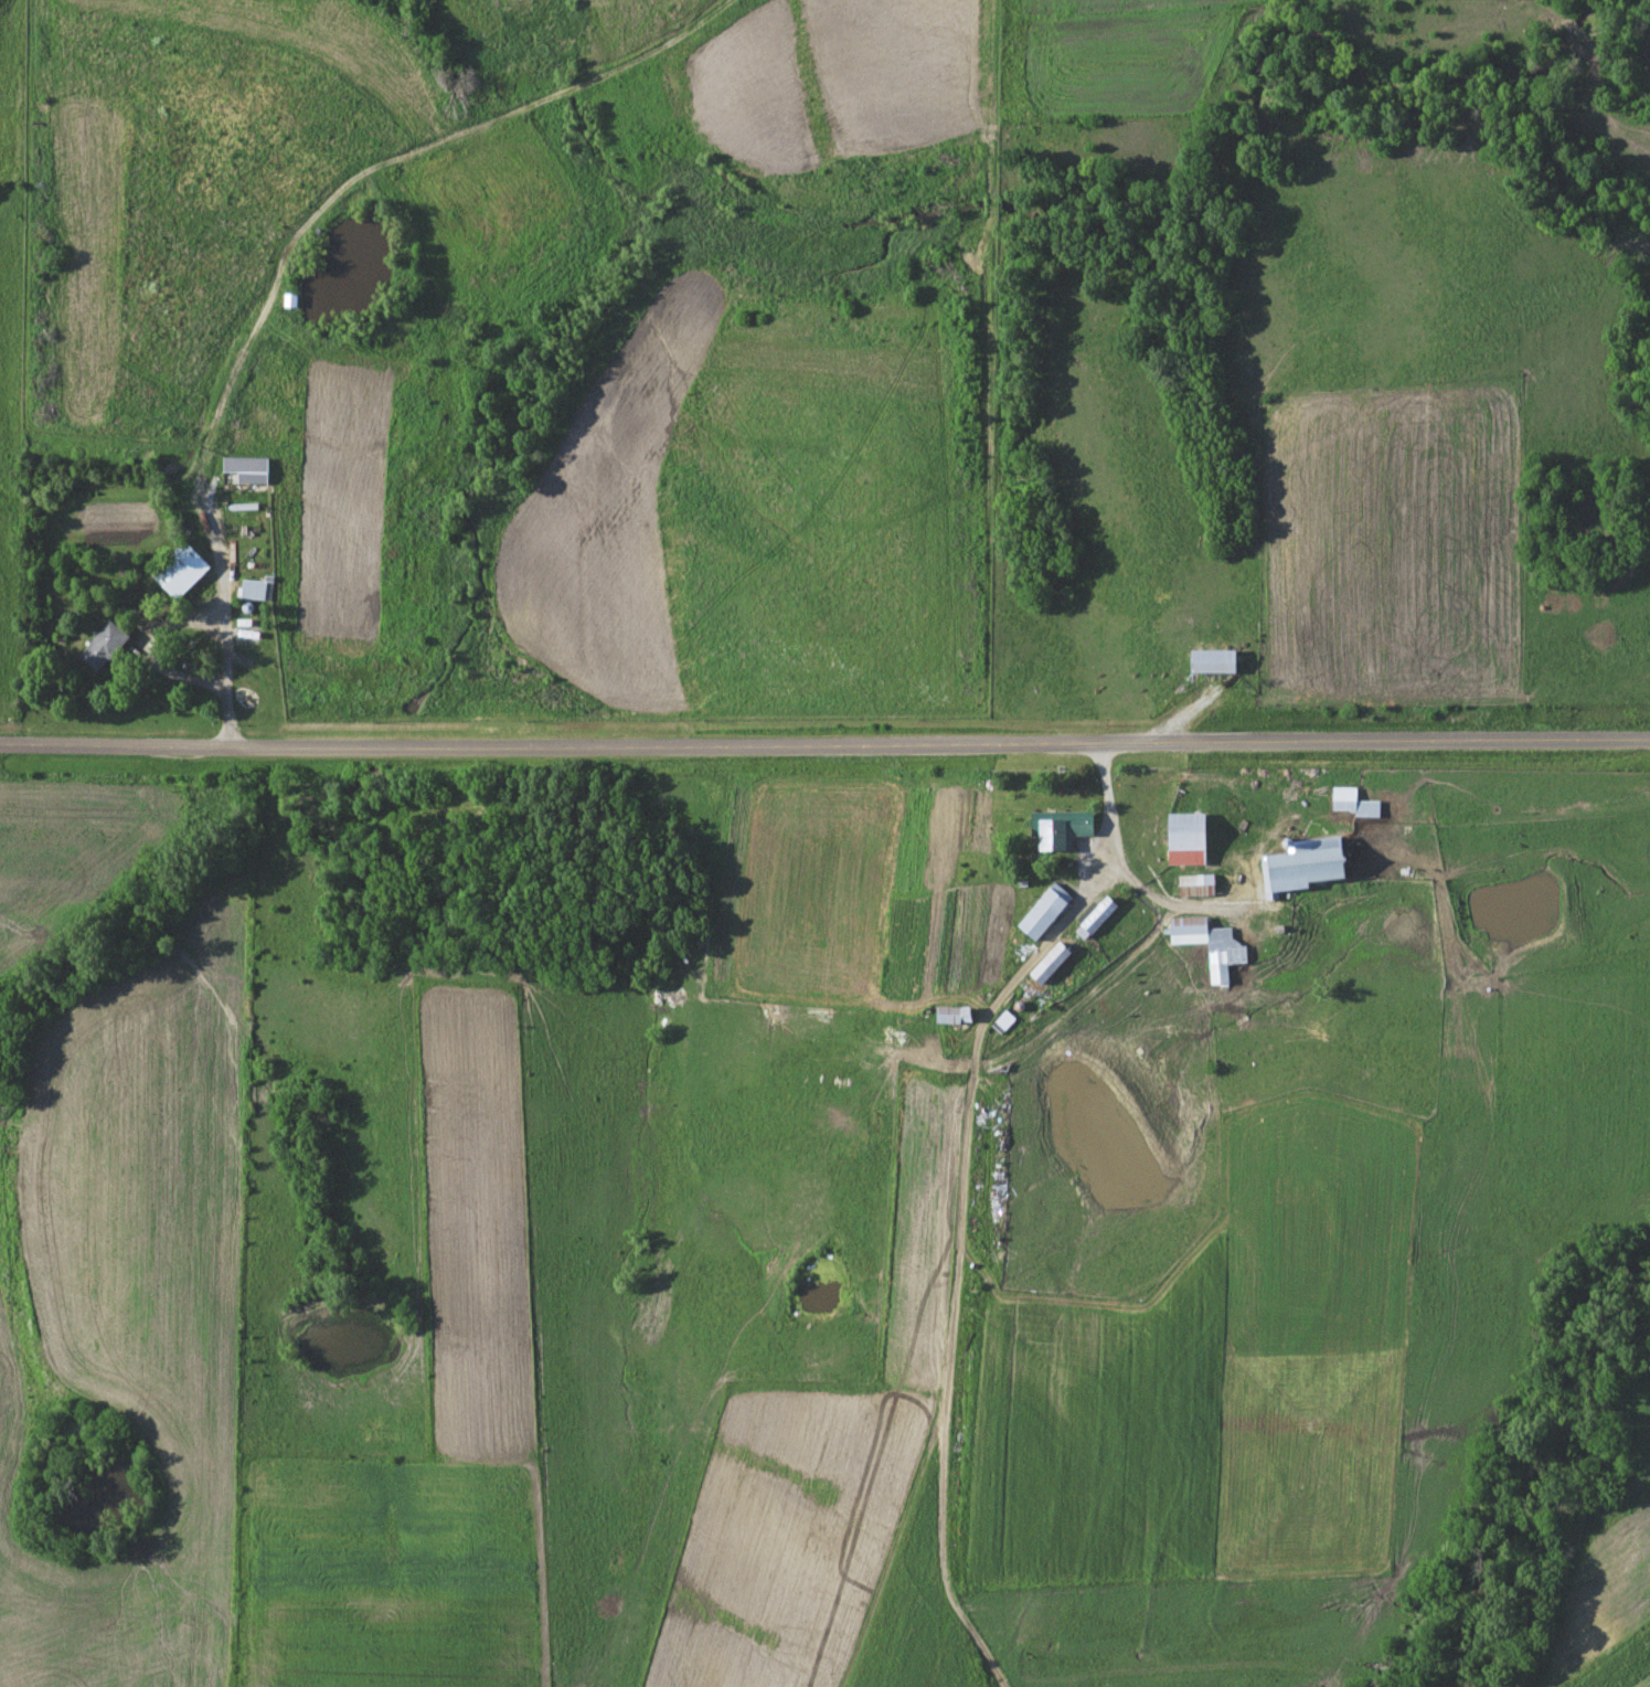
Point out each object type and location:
building: (243, 466)
building: (179, 571)
building: (102, 647)
building: (1212, 662)
road: (824, 739)
building: (1062, 824)
building: (1301, 868)
building: (1194, 884)
building: (1188, 925)
building: (950, 1016)

